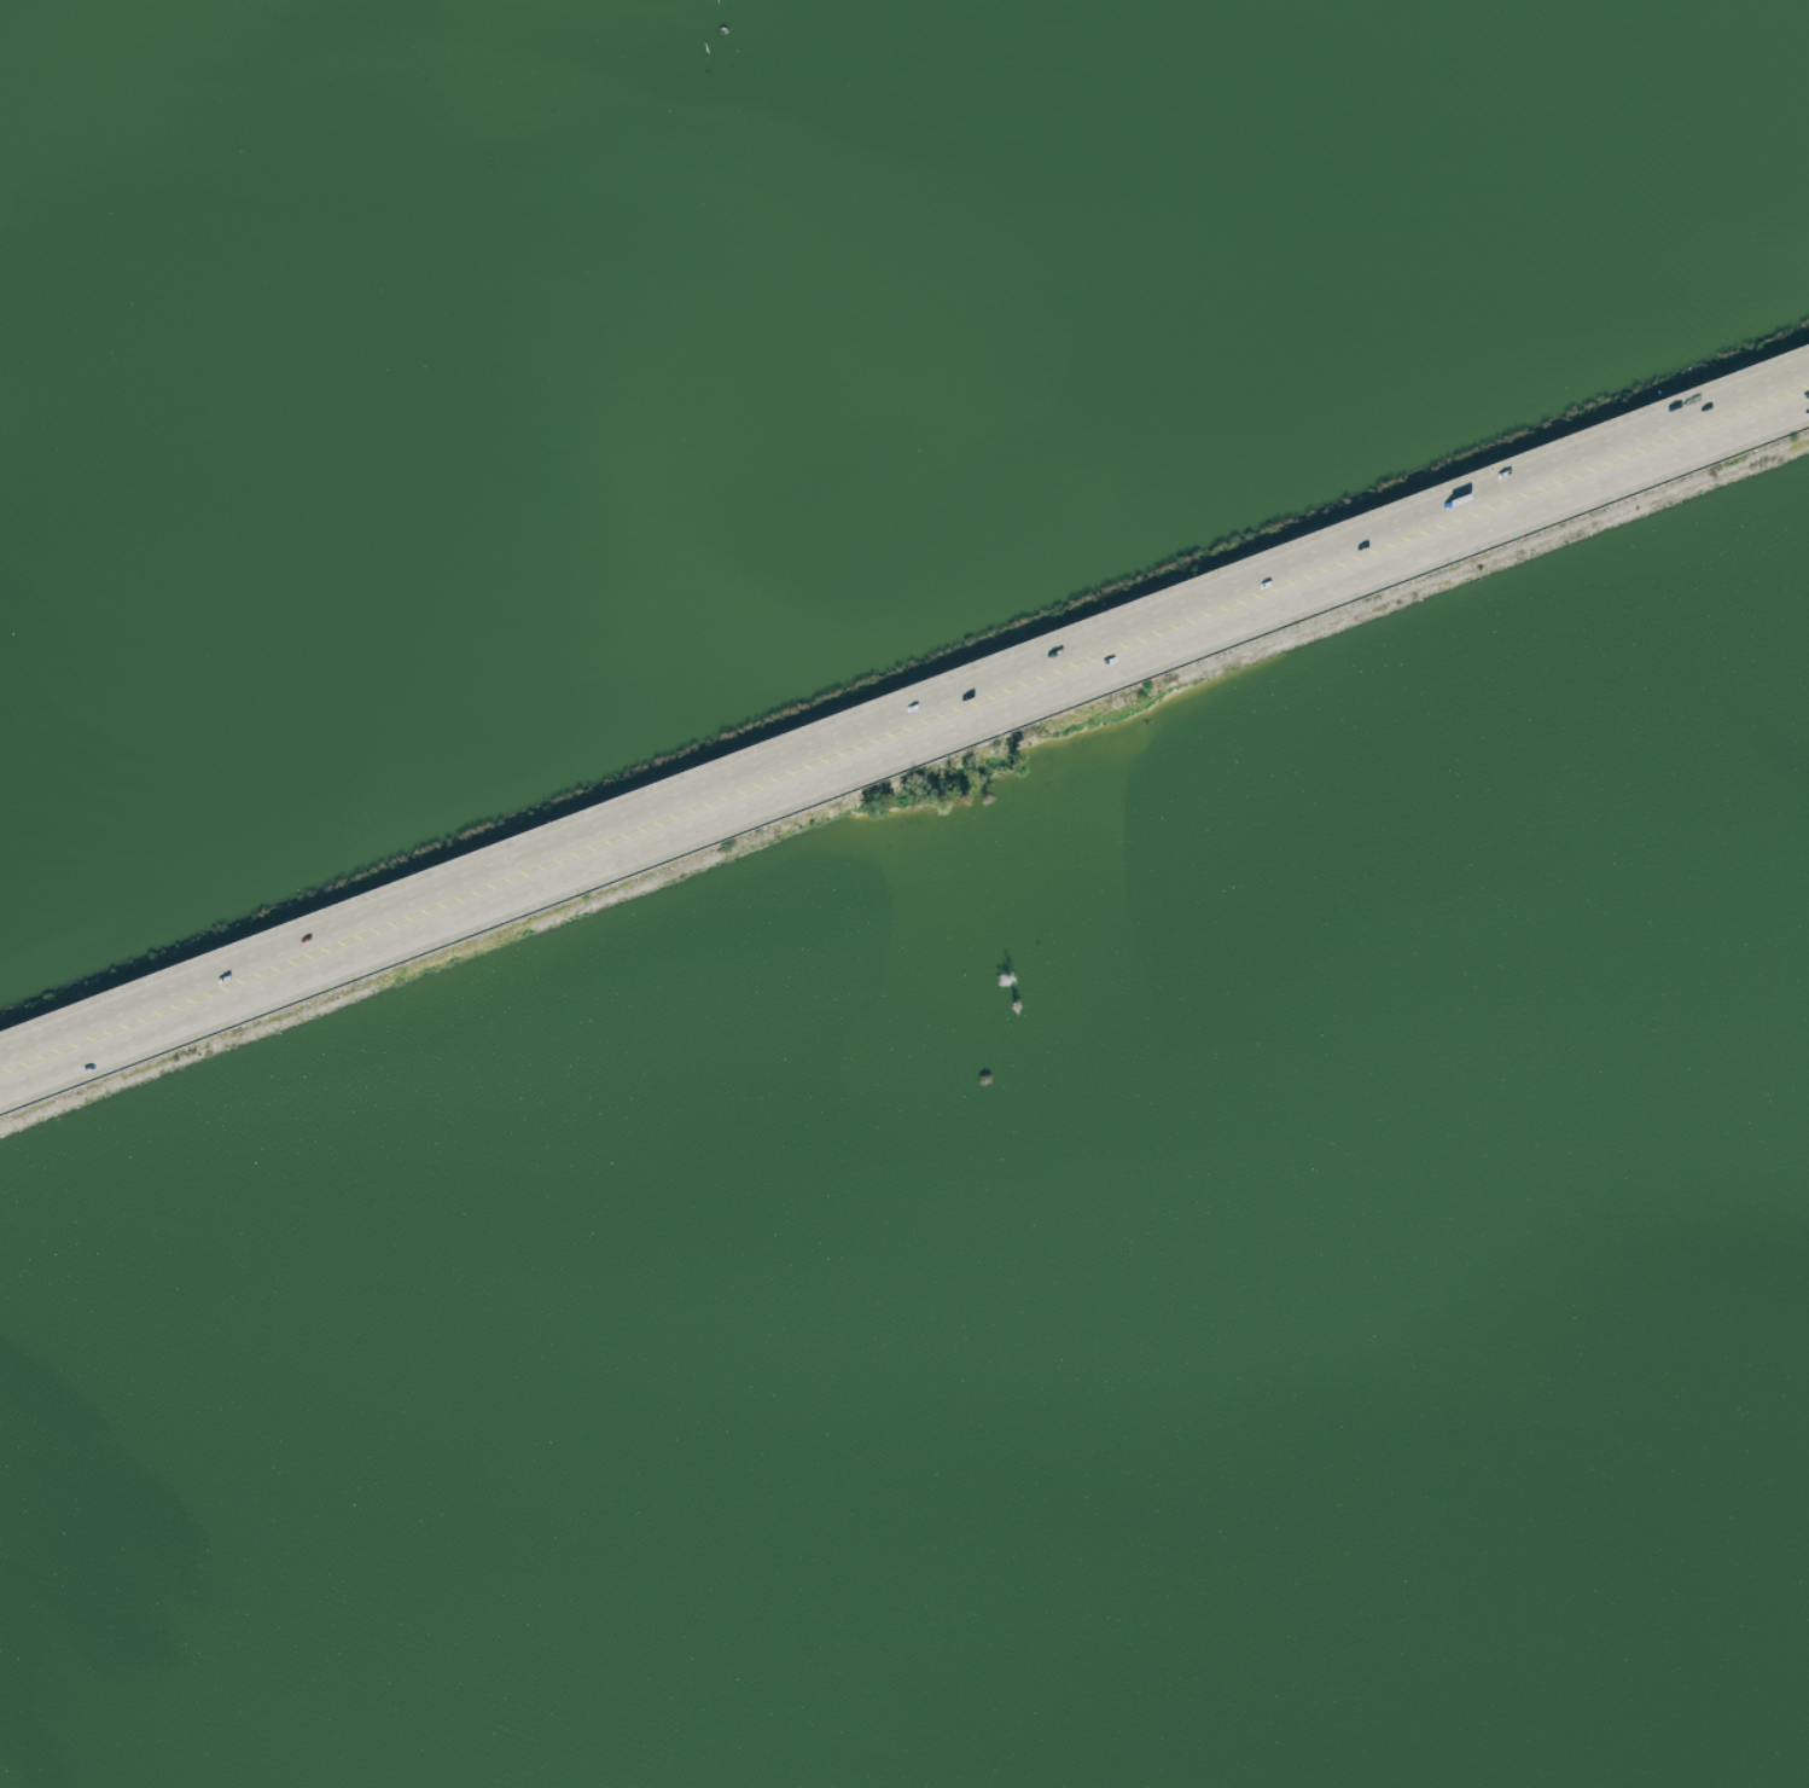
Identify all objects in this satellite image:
road: (903, 743)
river: (1524, 1452)
river: (620, 1612)
river: (1231, 1722)

